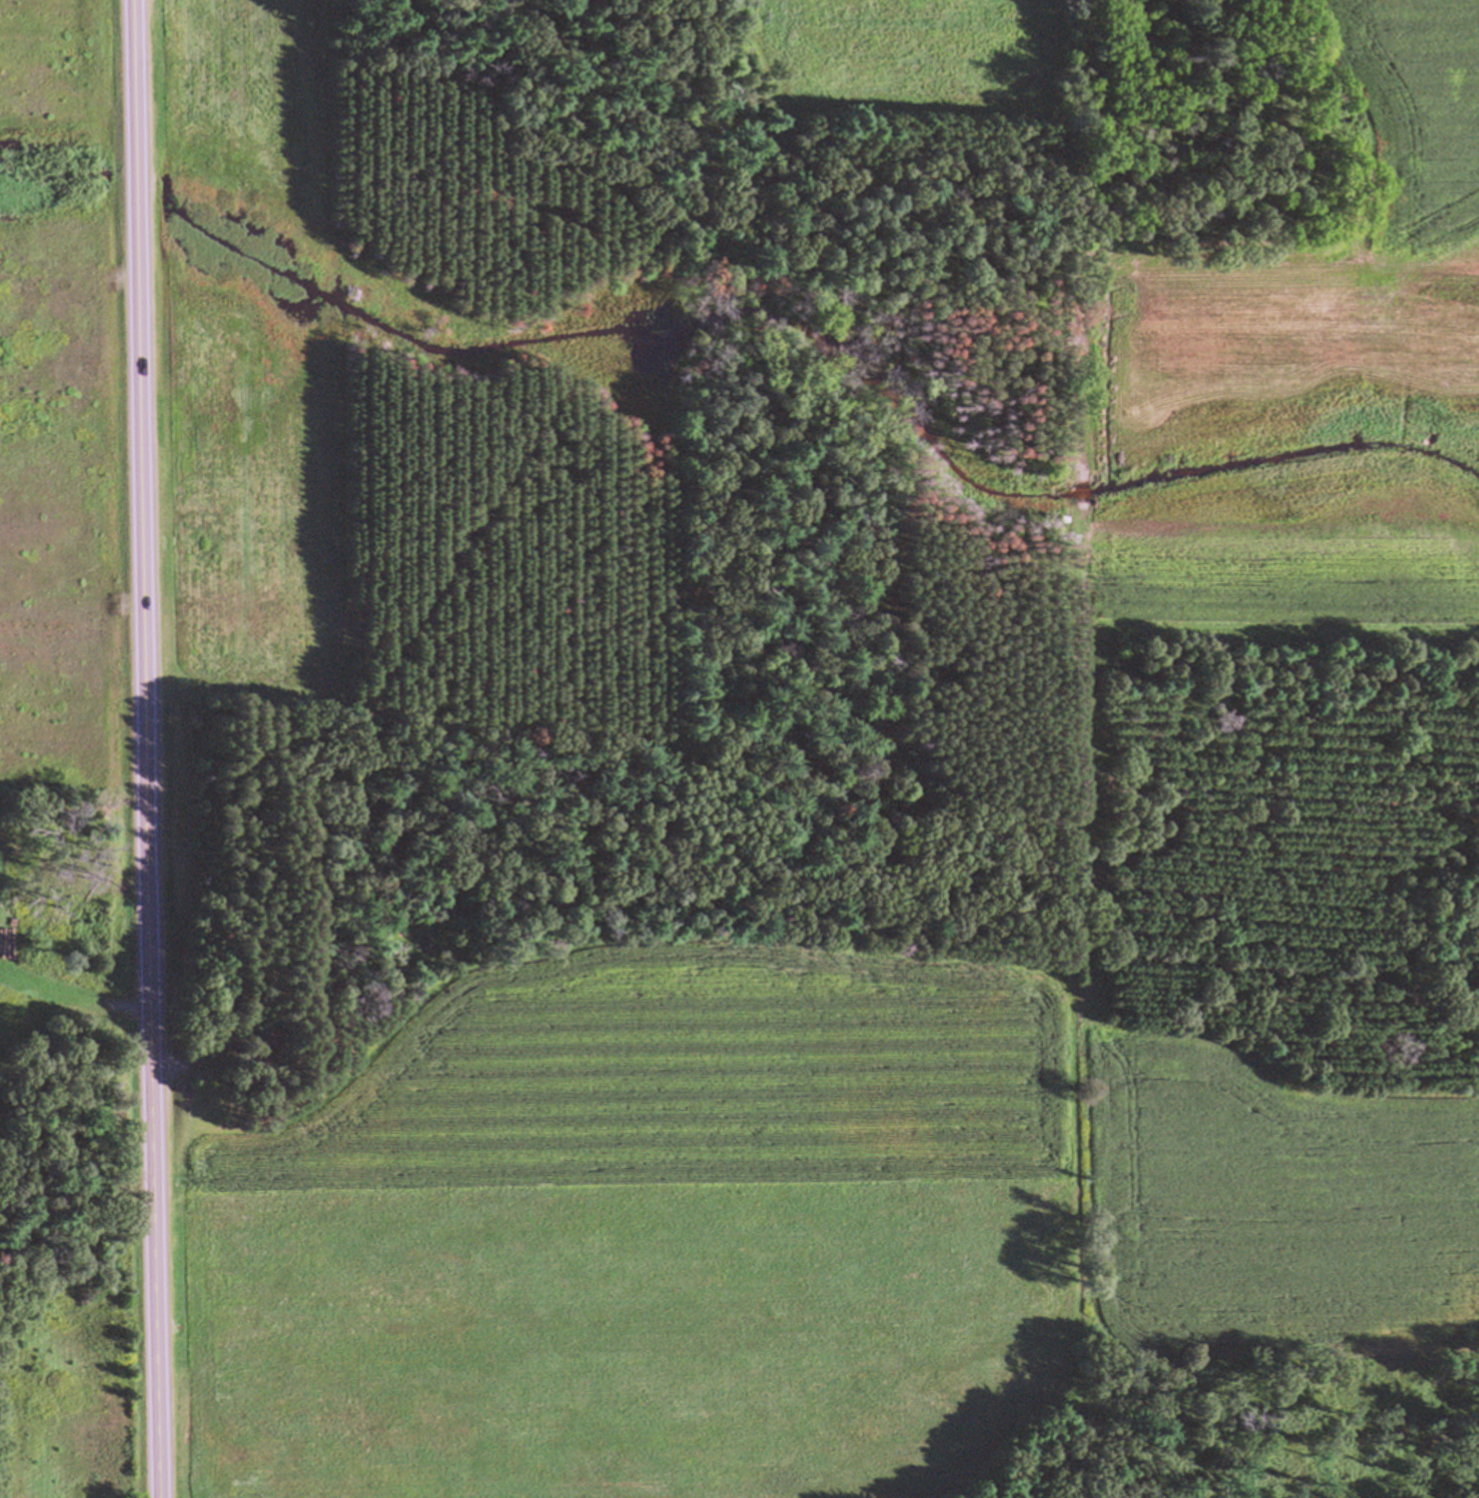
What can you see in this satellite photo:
road: (142, 749)
building: (1, 1035)

